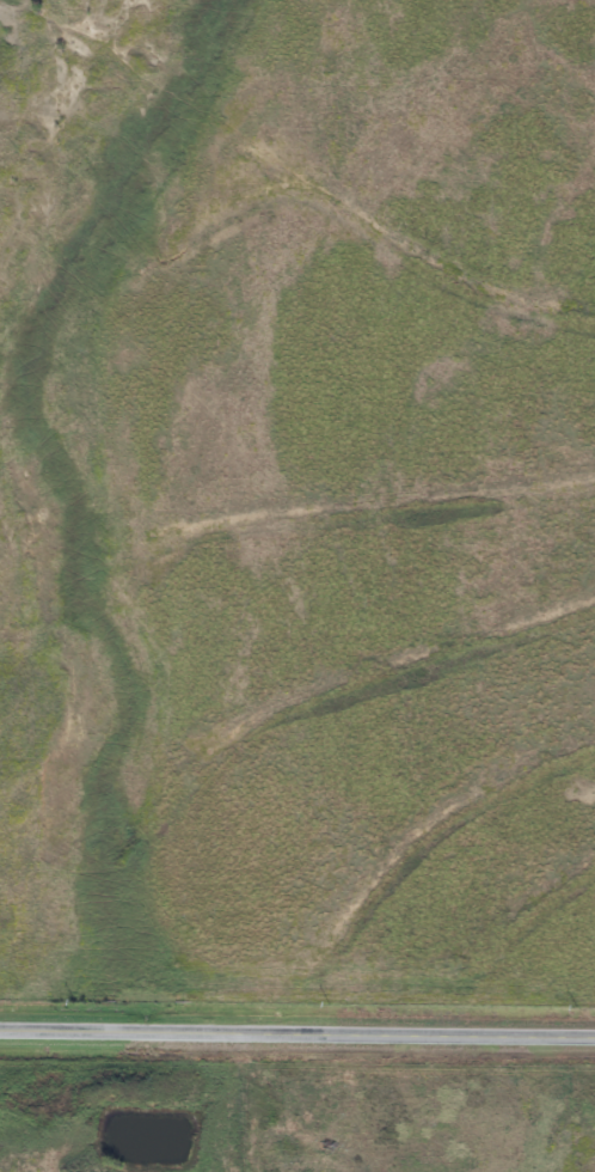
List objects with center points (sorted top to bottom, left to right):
road: (297, 1032)

